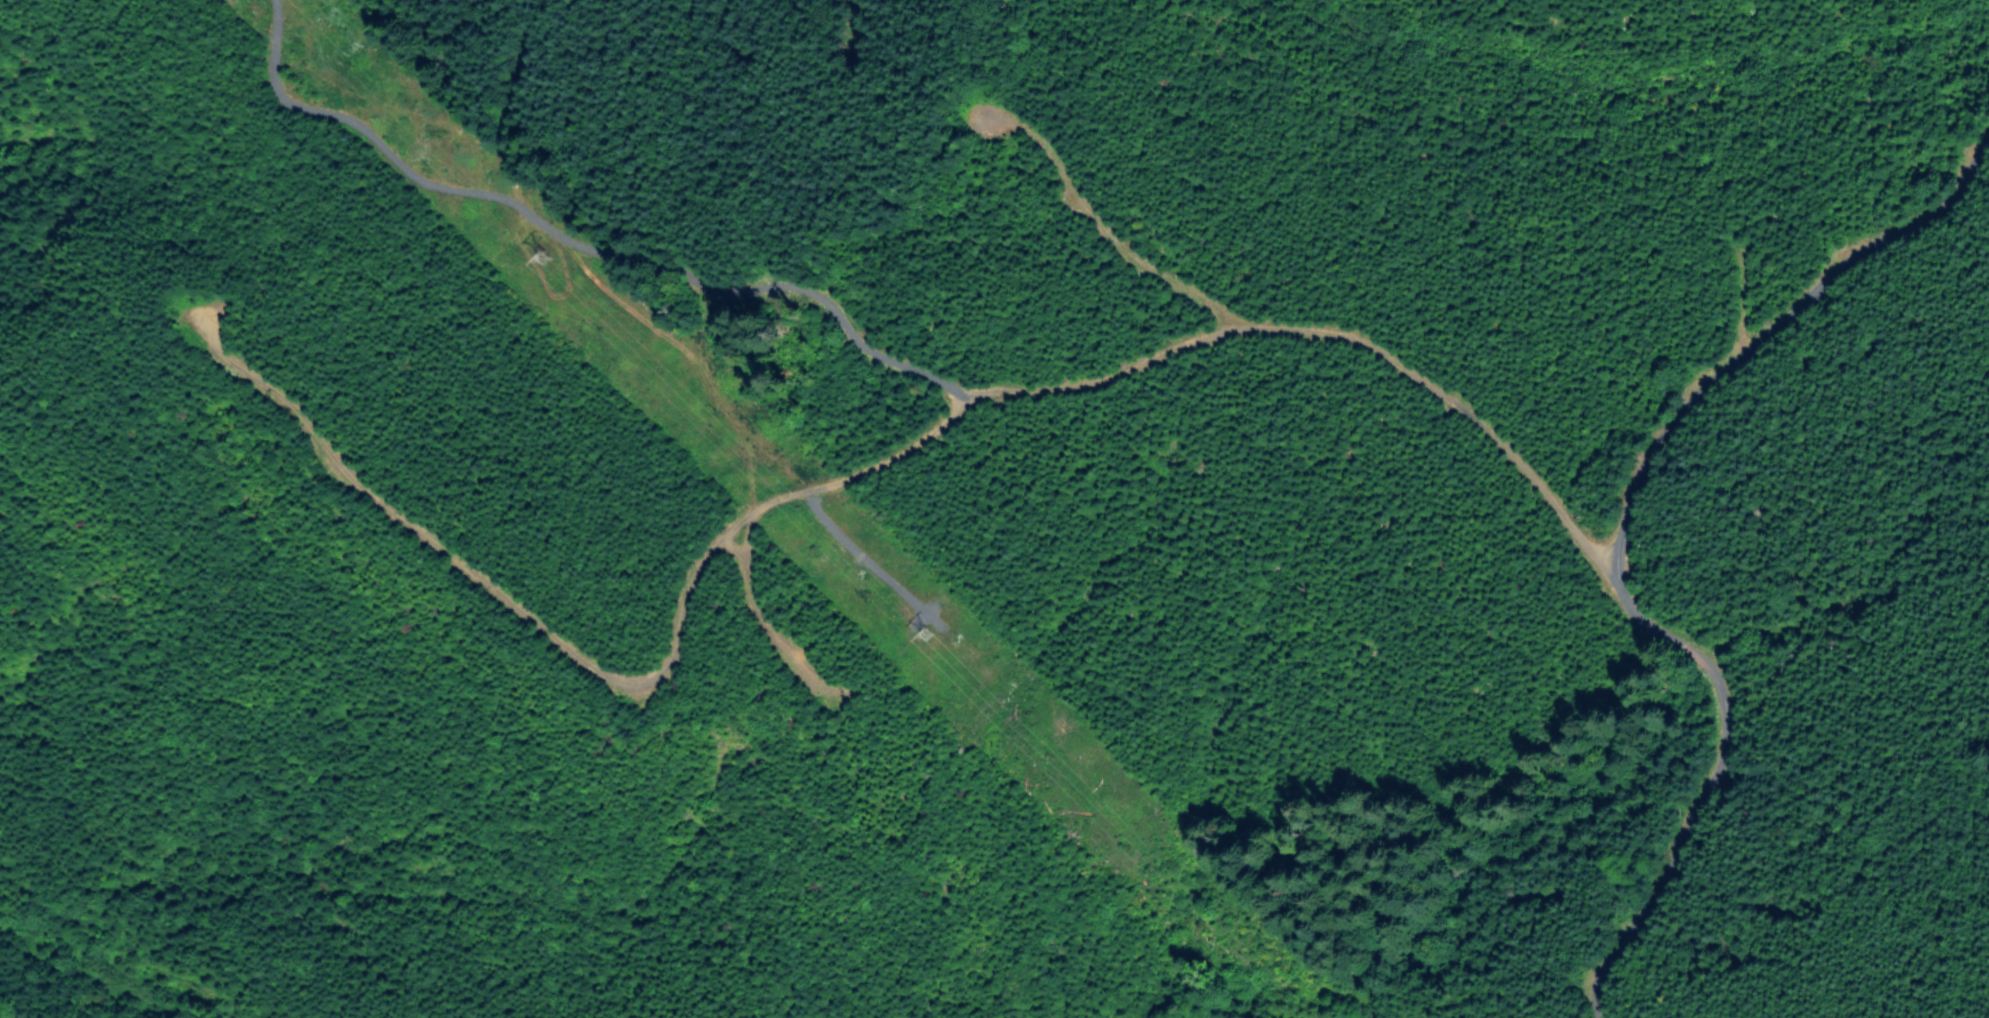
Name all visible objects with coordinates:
power tower: (532, 254)
power tower: (914, 628)

